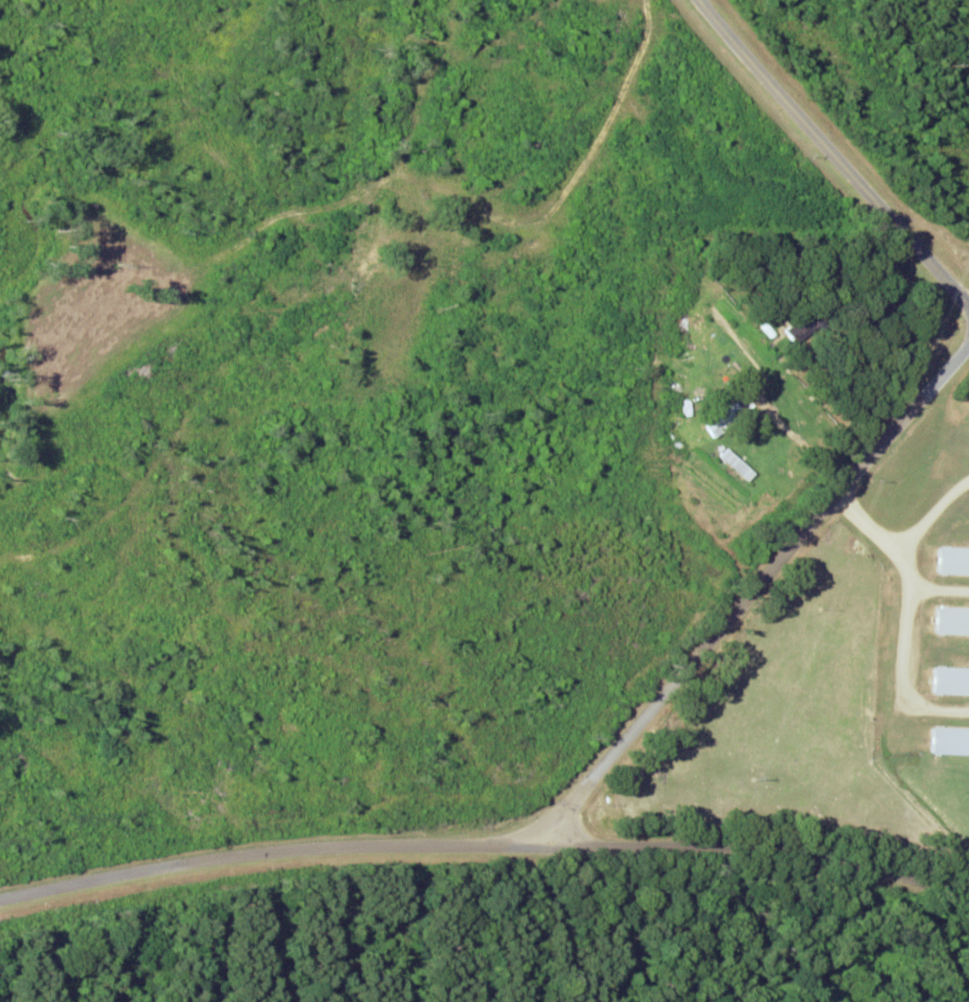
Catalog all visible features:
road: (822, 192)
building: (725, 419)
building: (955, 561)
building: (954, 621)
road: (772, 633)
building: (952, 681)
building: (951, 742)
road: (271, 849)
road: (759, 898)

